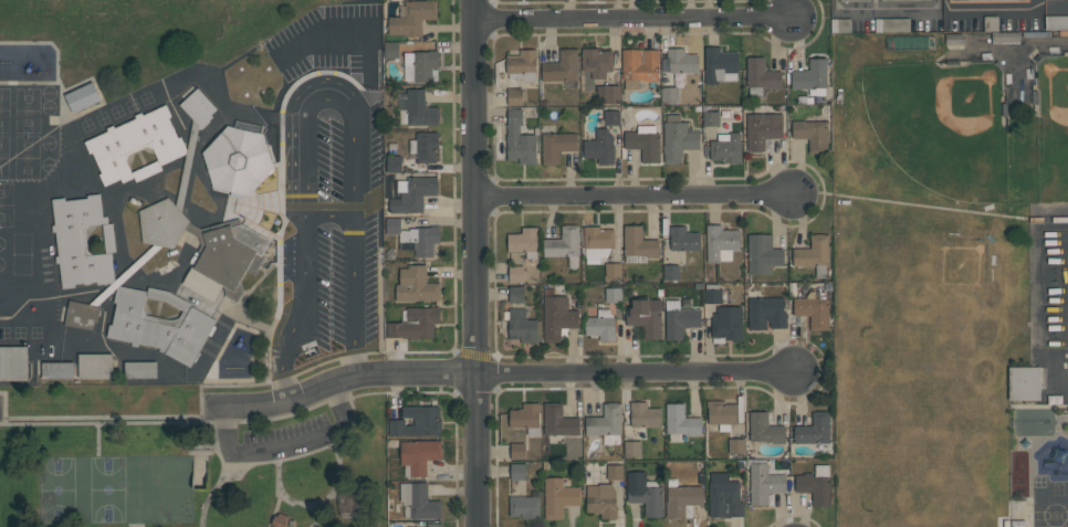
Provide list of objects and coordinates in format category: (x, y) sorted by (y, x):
building: (855, 0)
building: (918, 0)
building: (986, 1)
road: (837, 8)
road: (997, 11)
road: (897, 12)
building: (412, 18)
road: (637, 19)
building: (1056, 22)
building: (892, 25)
building: (391, 49)
building: (682, 61)
building: (422, 63)
building: (522, 65)
building: (720, 65)
building: (562, 66)
building: (595, 66)
building: (639, 66)
road: (318, 75)
building: (812, 76)
building: (761, 77)
building: (608, 93)
building: (669, 94)
road: (290, 95)
building: (514, 96)
building: (83, 97)
building: (198, 107)
building: (416, 108)
building: (611, 117)
building: (715, 117)
road: (265, 118)
building: (762, 129)
building: (812, 134)
building: (678, 138)
building: (520, 140)
building: (643, 143)
building: (135, 145)
building: (556, 146)
building: (423, 147)
building: (600, 147)
building: (725, 147)
building: (238, 160)
building: (394, 164)
building: (412, 193)
road: (638, 196)
road: (336, 202)
building: (161, 223)
road: (318, 223)
building: (392, 225)
building: (683, 239)
building: (421, 240)
building: (82, 241)
building: (524, 241)
building: (598, 241)
building: (639, 242)
building: (721, 243)
building: (564, 245)
building: (763, 254)
building: (814, 254)
building: (226, 260)
road: (479, 263)
building: (612, 270)
building: (671, 272)
building: (516, 273)
building: (416, 285)
building: (712, 293)
building: (516, 294)
building: (612, 295)
building: (814, 309)
building: (766, 313)
building: (81, 315)
building: (646, 316)
building: (557, 317)
building: (679, 319)
building: (415, 323)
building: (159, 324)
building: (726, 324)
building: (522, 325)
building: (601, 325)
building: (12, 362)
building: (95, 366)
building: (57, 369)
building: (140, 369)
road: (640, 373)
road: (343, 383)
building: (1024, 383)
building: (645, 414)
building: (722, 414)
building: (526, 418)
building: (558, 420)
road: (102, 422)
building: (417, 422)
building: (680, 422)
building: (607, 423)
road: (352, 424)
building: (764, 429)
building: (814, 430)
road: (100, 439)
building: (736, 445)
road: (326, 447)
building: (632, 449)
building: (517, 451)
building: (419, 455)
road: (221, 460)
park: (191, 463)
road: (251, 465)
building: (517, 471)
building: (615, 472)
building: (765, 484)
building: (816, 484)
park: (156, 489)
building: (643, 493)
building: (724, 496)
building: (558, 497)
road: (293, 499)
building: (682, 499)
building: (419, 500)
building: (601, 500)
building: (524, 506)
building: (279, 520)
road: (324, 524)
road: (136, 525)
building: (434, 525)

